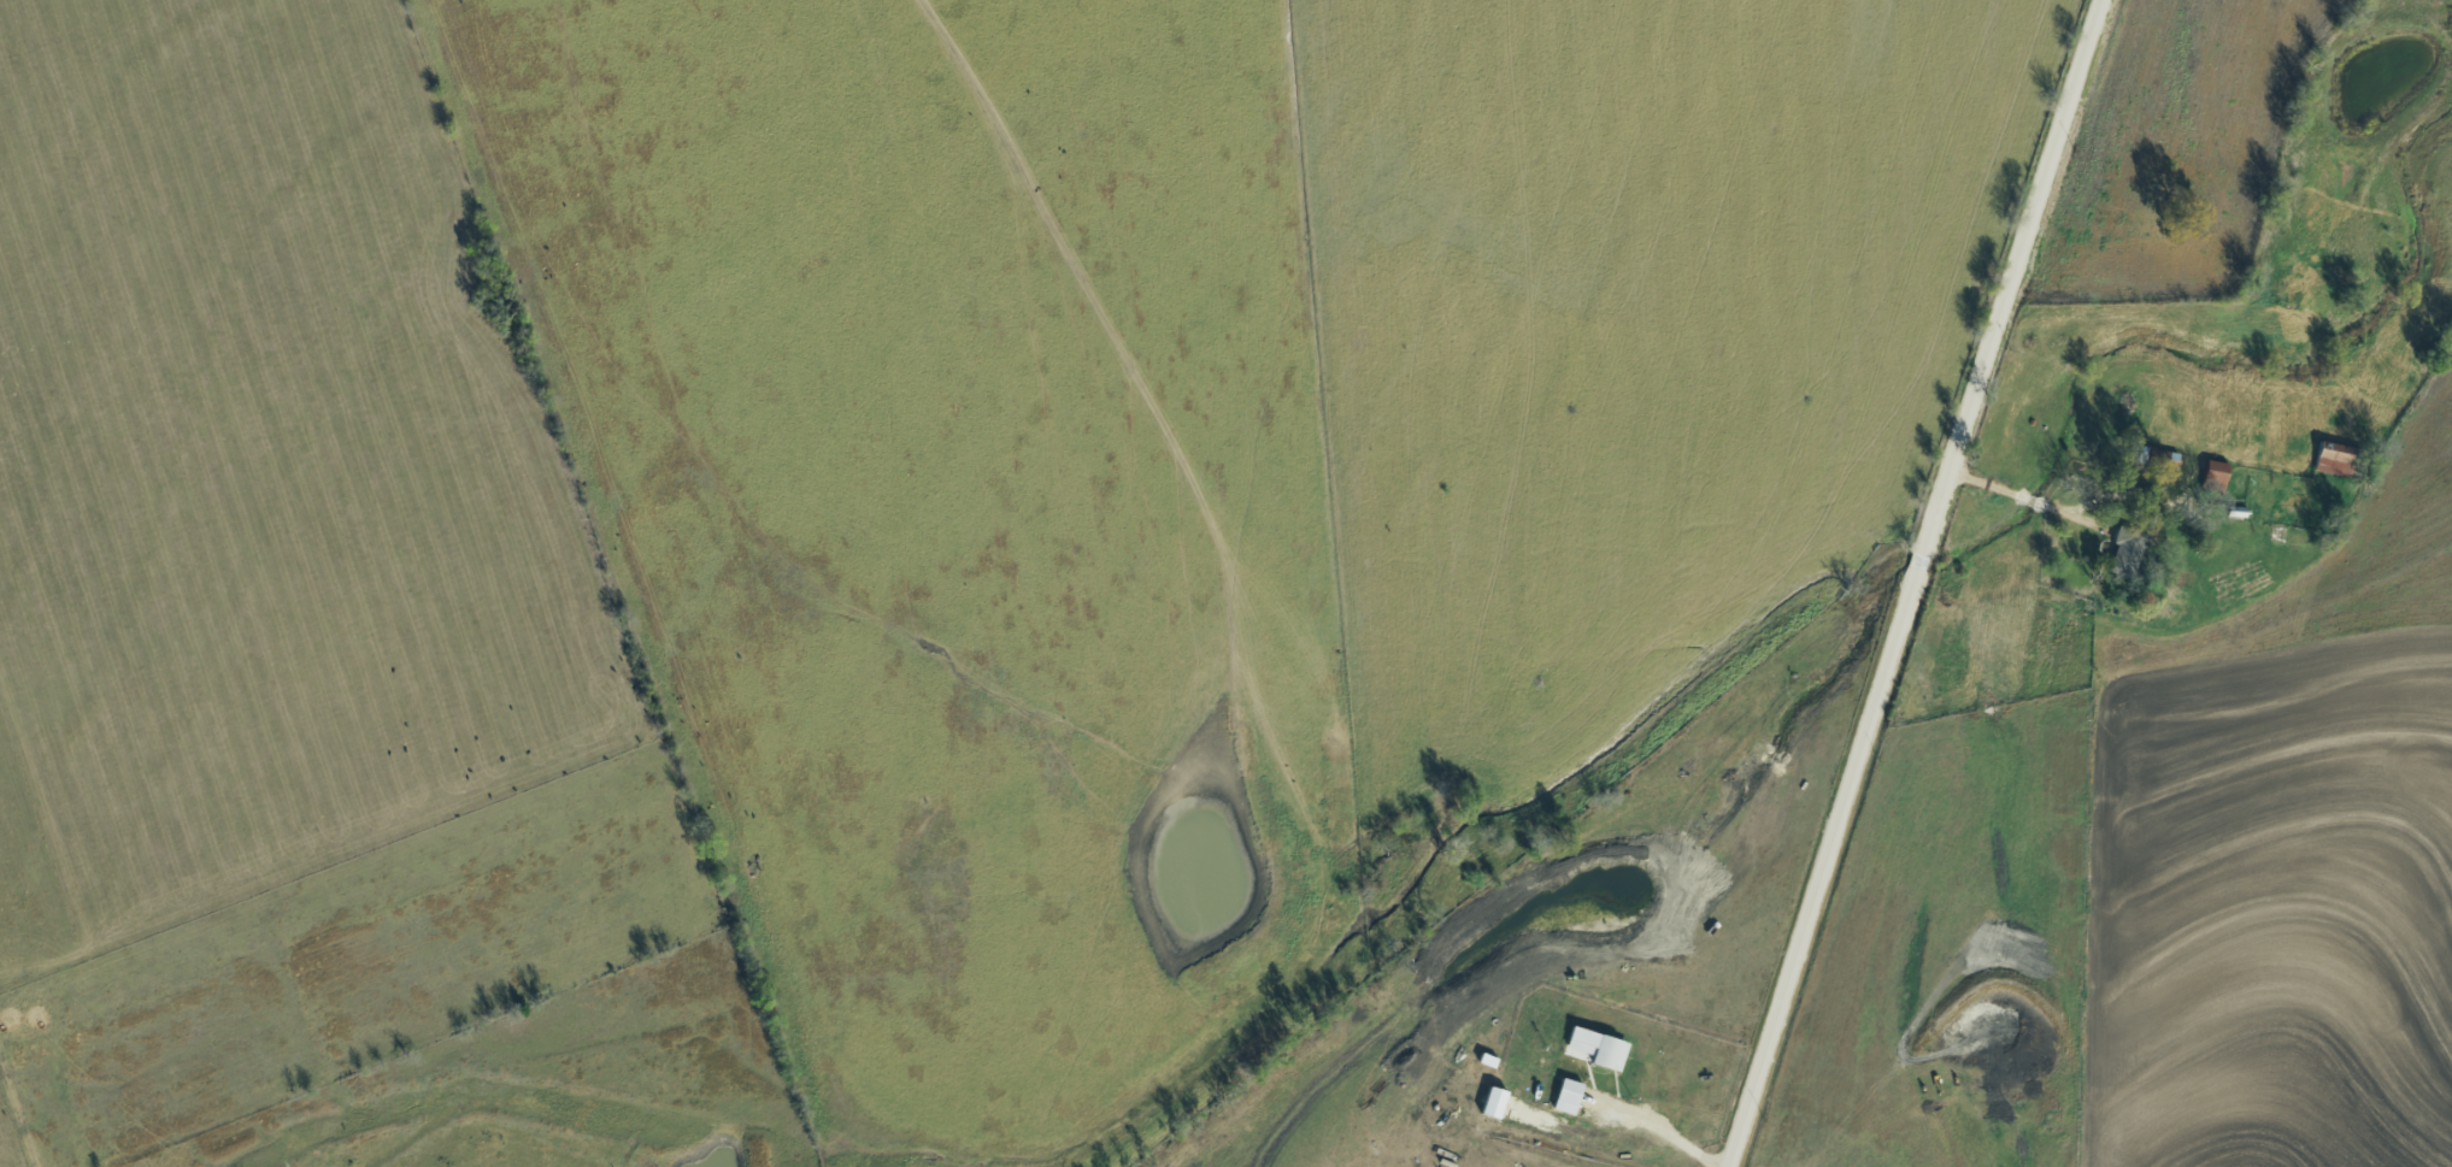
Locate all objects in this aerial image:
building: (2335, 459)
road: (2027, 496)
building: (2129, 546)
road: (1916, 582)
building: (1599, 1047)
building: (1570, 1096)
building: (1495, 1101)

